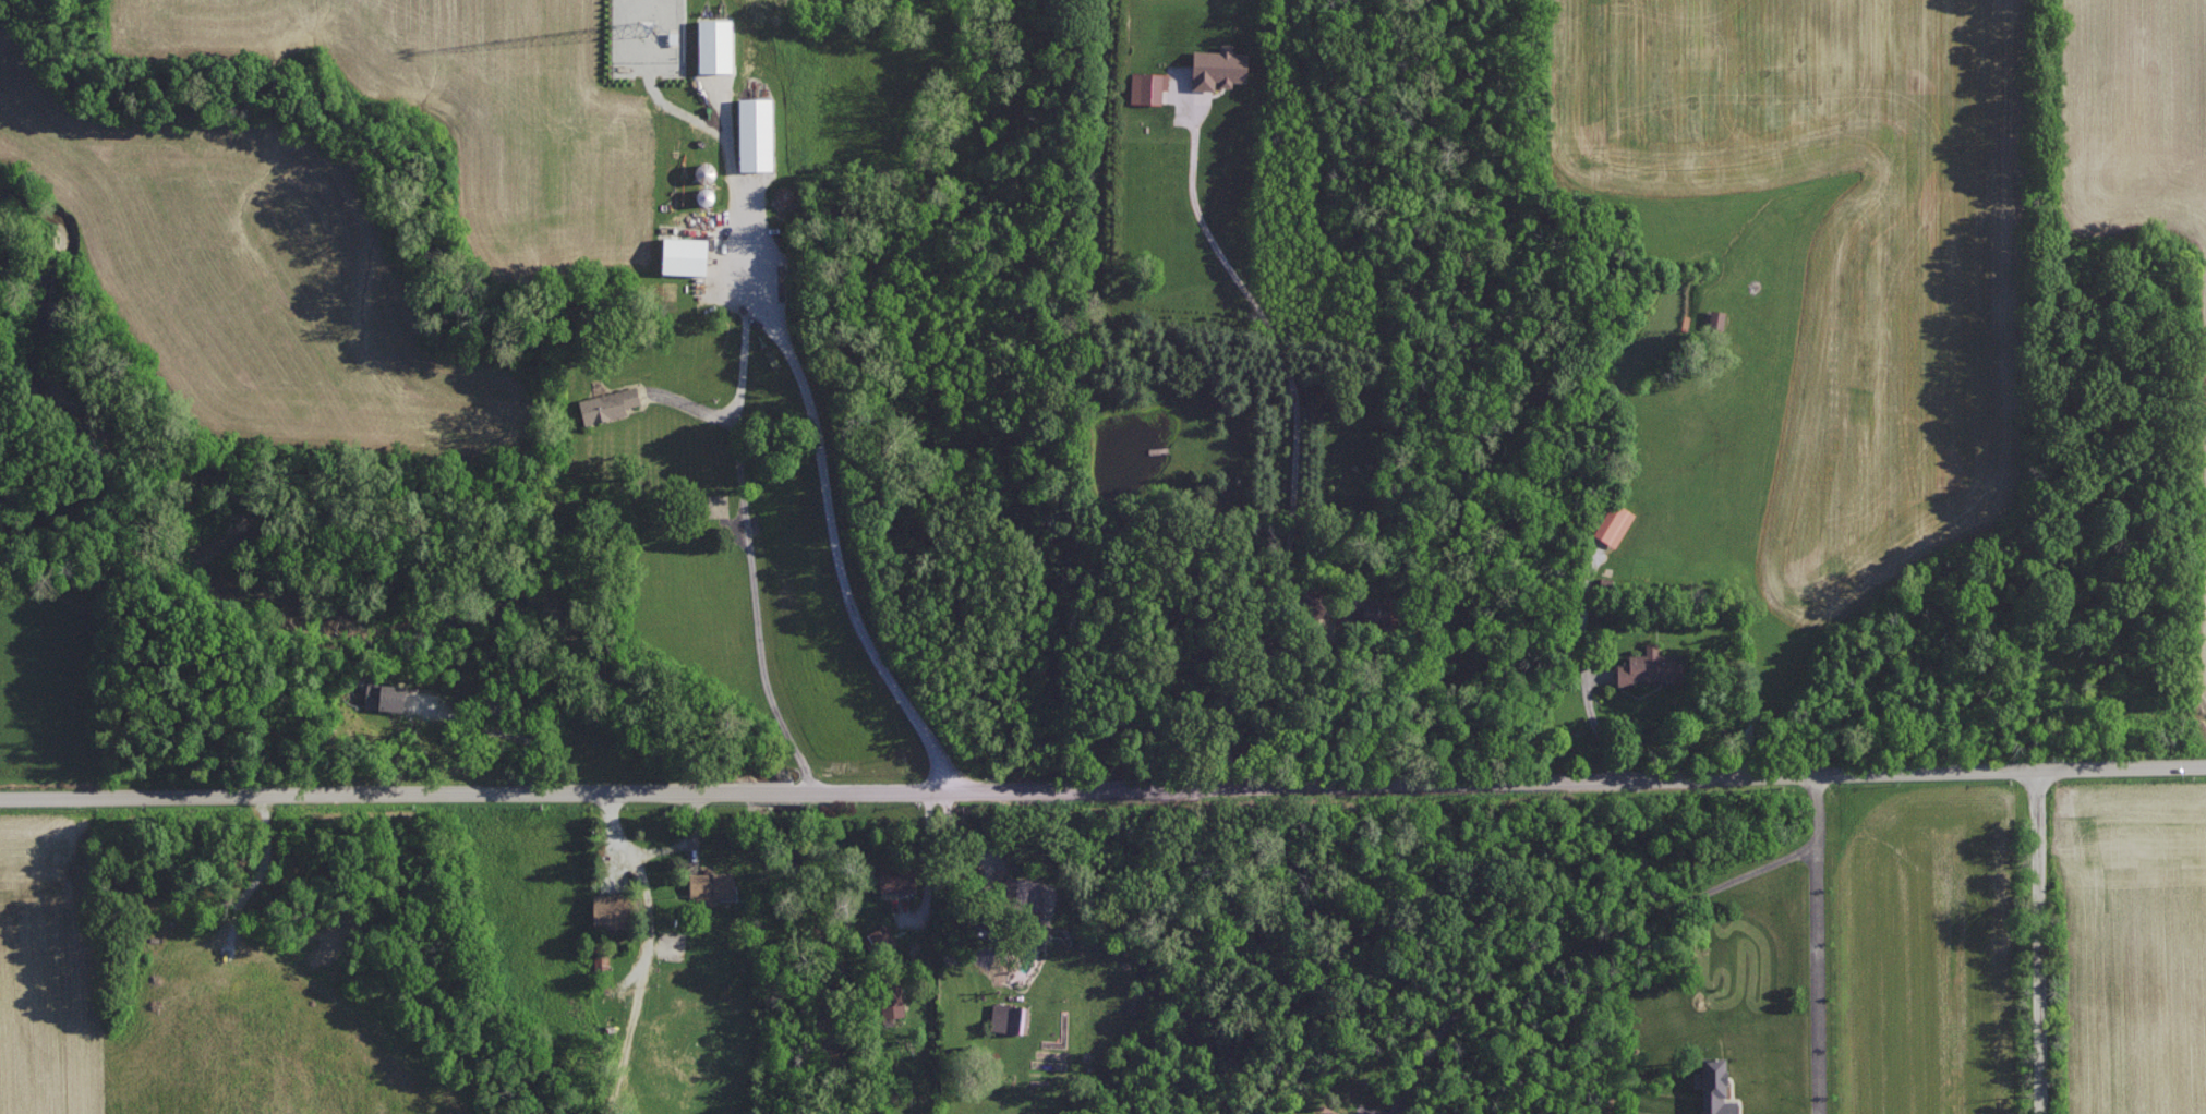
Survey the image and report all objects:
building: (714, 45)
building: (1218, 68)
building: (1148, 86)
building: (756, 133)
building: (706, 171)
building: (685, 254)
building: (1716, 318)
road: (1294, 387)
building: (608, 404)
road: (830, 508)
building: (1614, 522)
road: (754, 569)
building: (1314, 601)
building: (1651, 666)
road: (1234, 673)
building: (385, 695)
road: (1592, 722)
road: (509, 732)
road: (1102, 788)
road: (653, 849)
building: (897, 879)
building: (712, 885)
building: (1022, 891)
building: (612, 909)
building: (883, 939)
road: (1812, 943)
road: (2036, 943)
road: (1586, 957)
building: (892, 1000)
building: (1010, 1017)
building: (1714, 1087)

